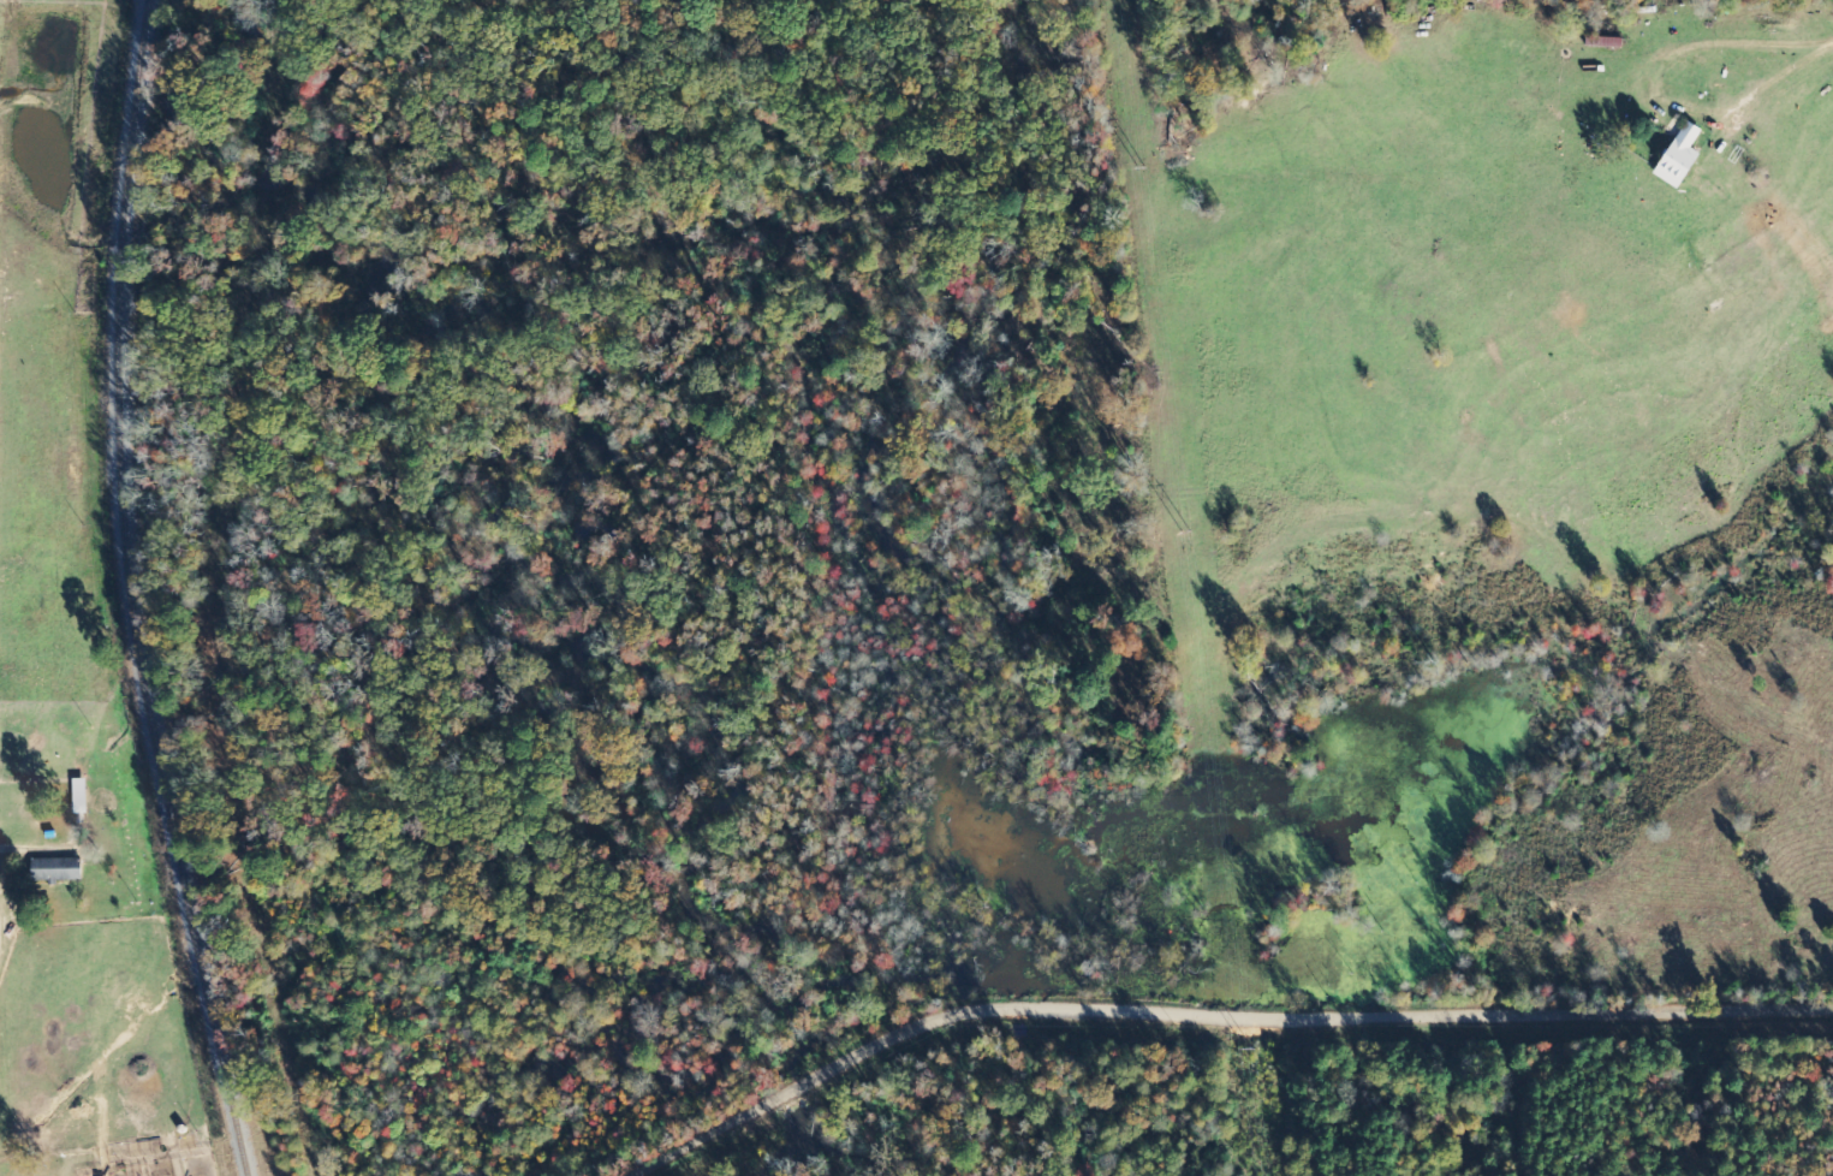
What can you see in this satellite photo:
power tower: (1143, 171)
power tower: (1188, 534)
railway: (124, 594)
building: (82, 797)
building: (60, 869)
road: (1258, 1024)
power tower: (1252, 1052)

